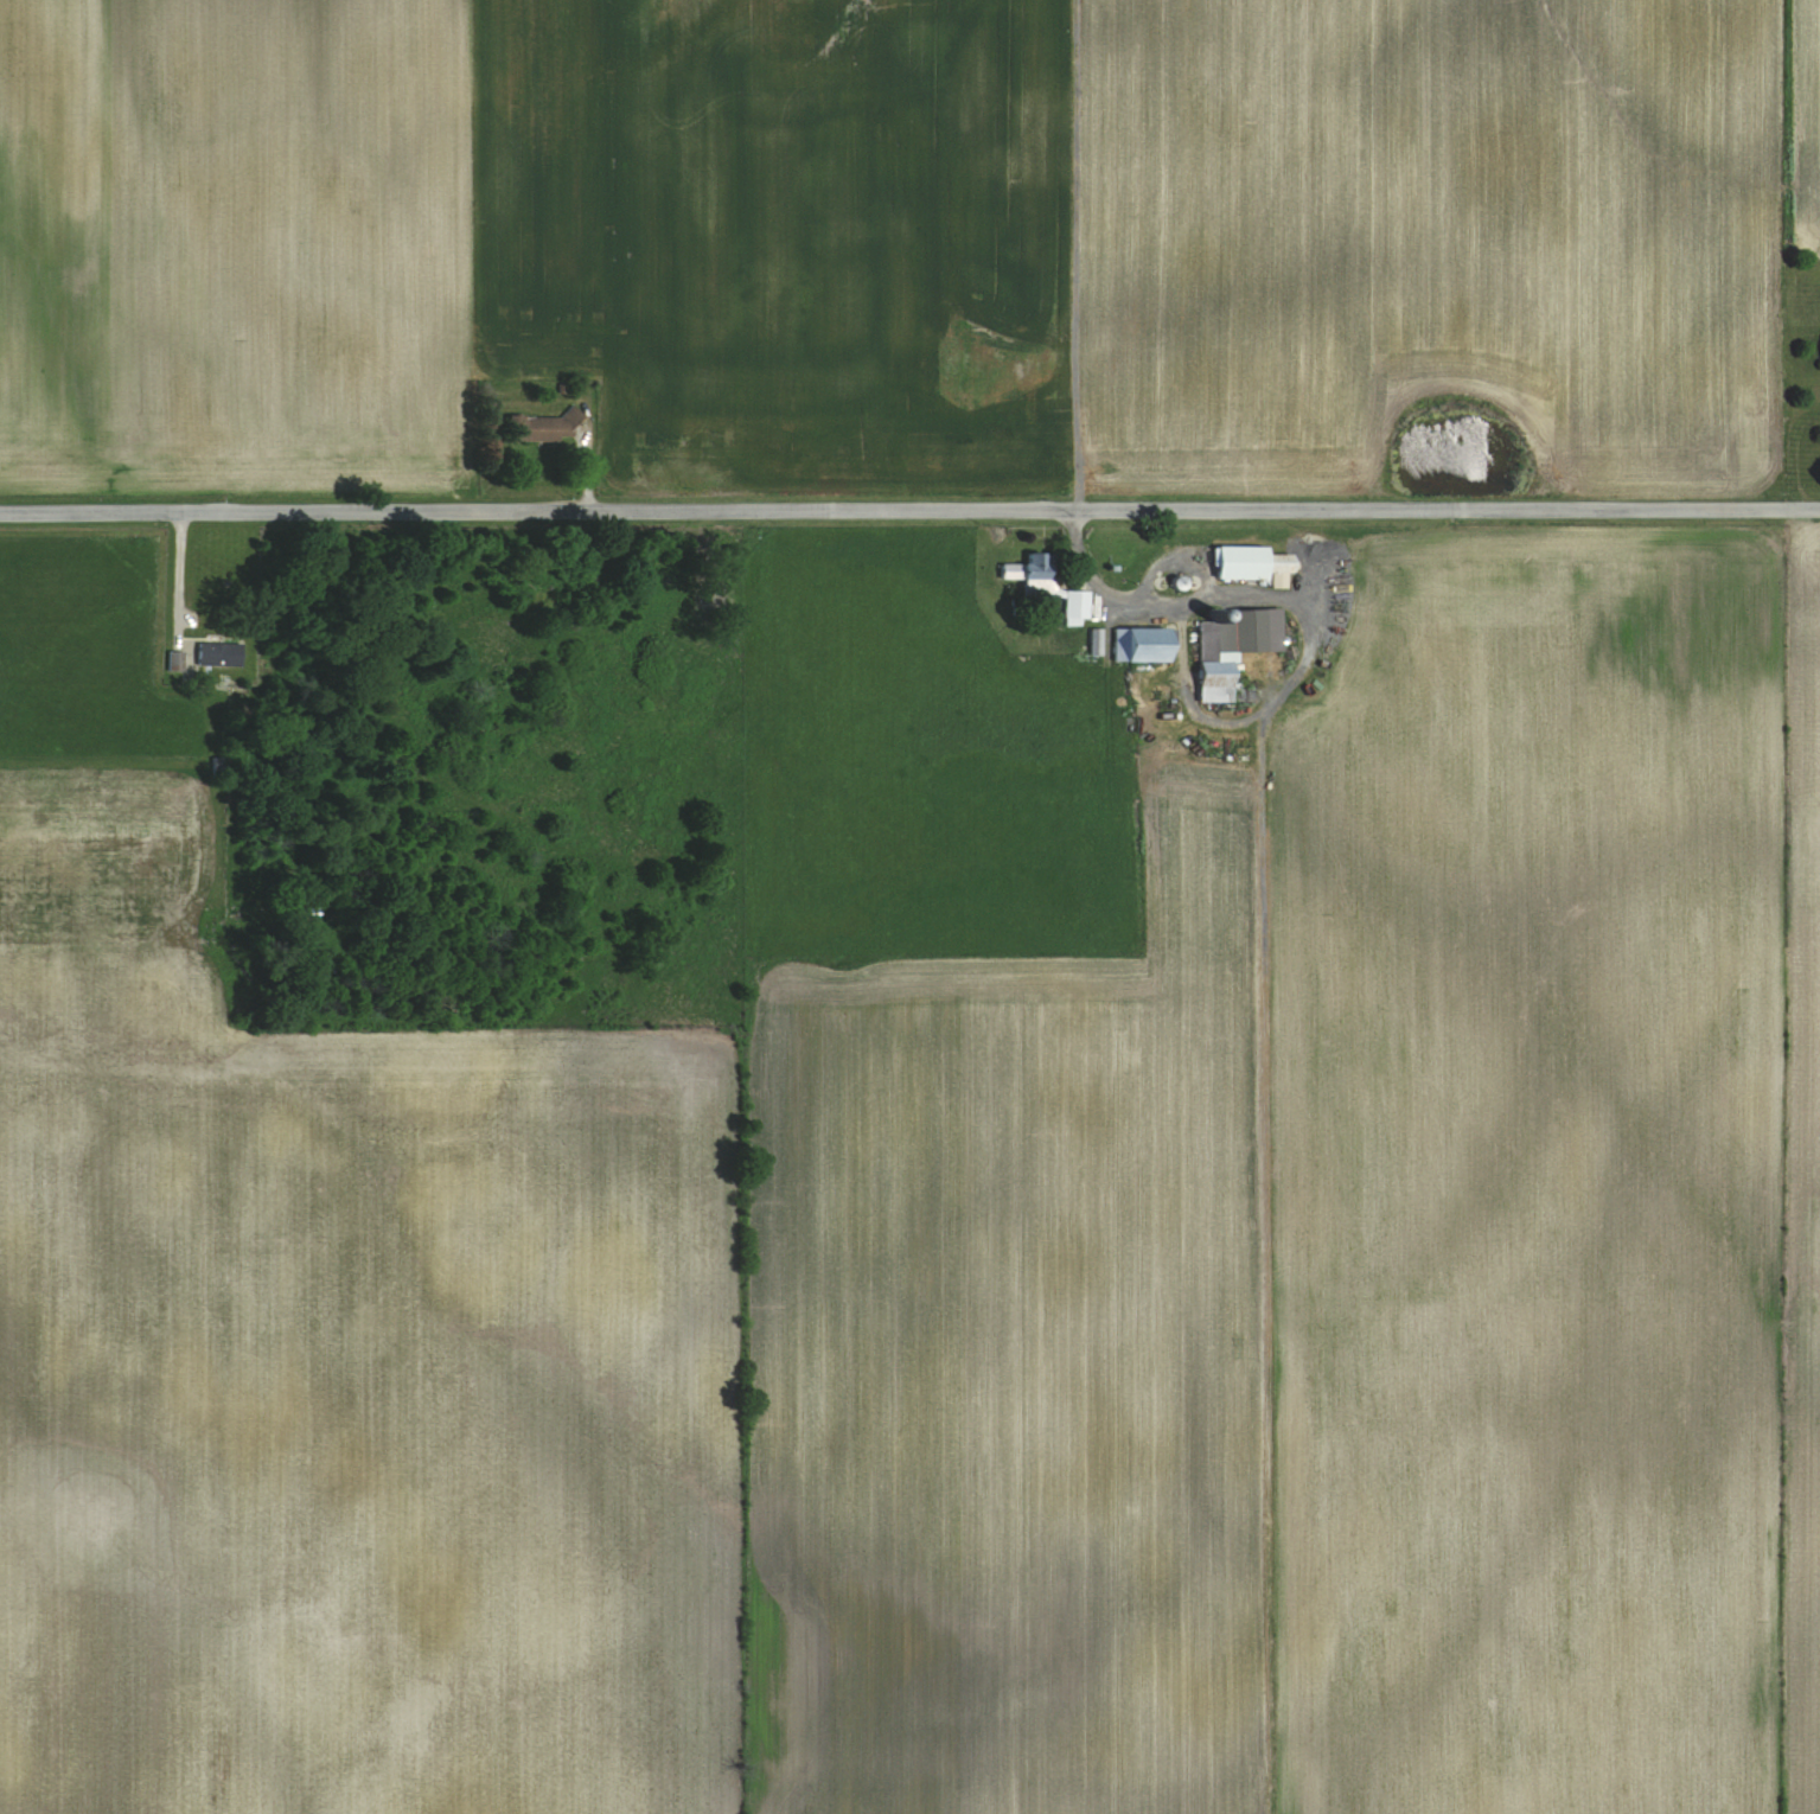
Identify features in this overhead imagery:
building: (541, 428)
road: (909, 511)
building: (1253, 564)
road: (175, 573)
building: (1047, 586)
building: (1141, 644)
building: (1232, 647)
building: (218, 654)
building: (174, 662)

